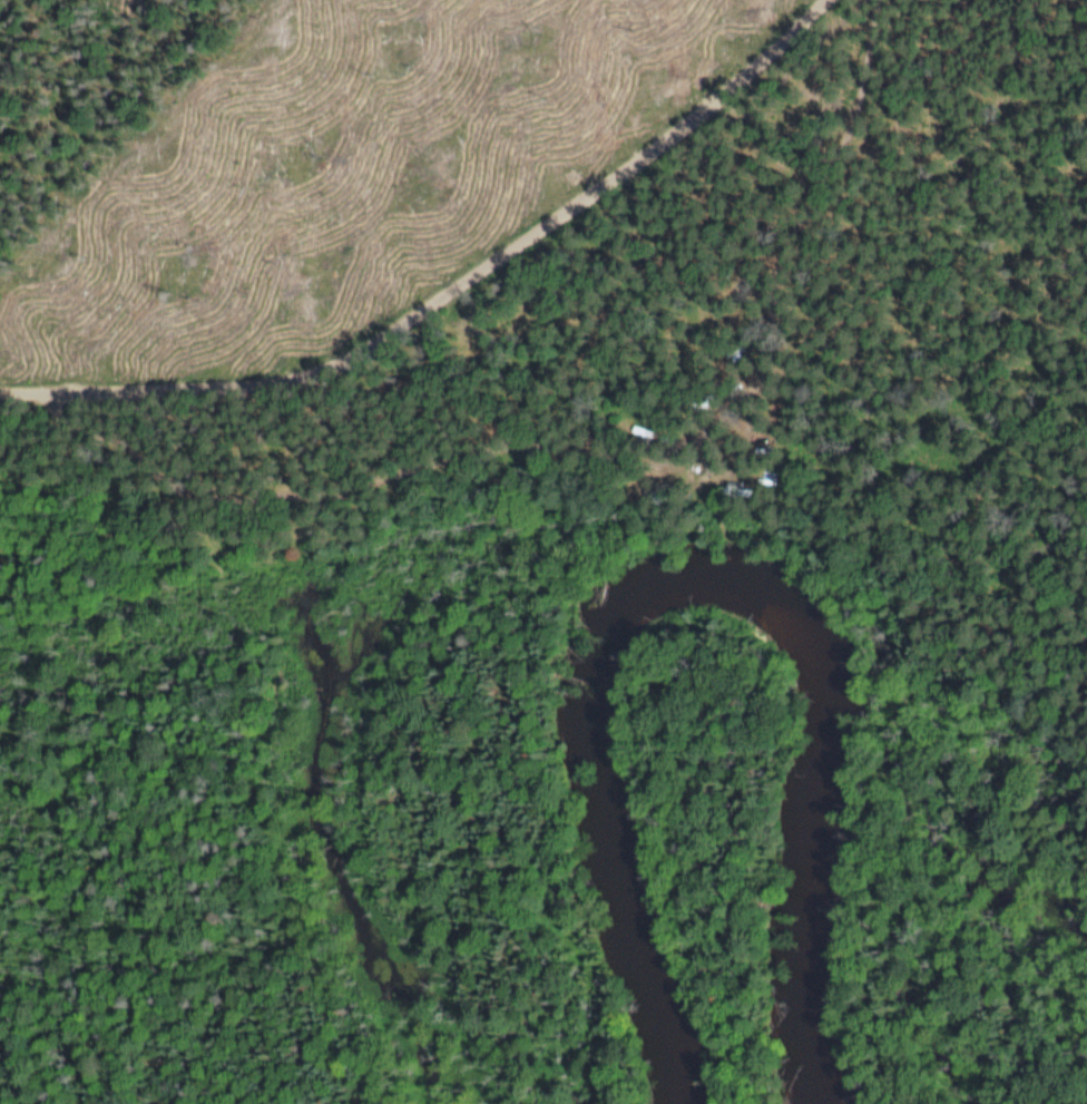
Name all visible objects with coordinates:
road: (449, 285)
building: (640, 429)
river: (704, 583)

